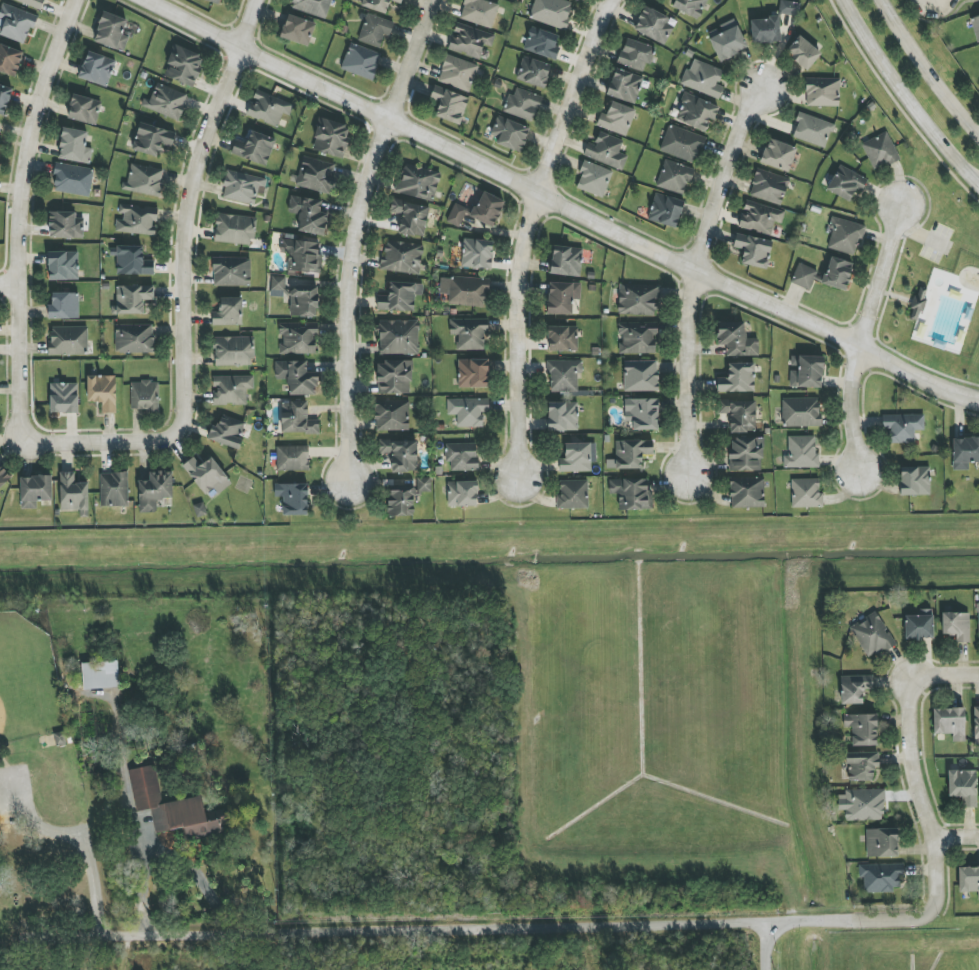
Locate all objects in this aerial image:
building: (577, 0)
building: (215, 1)
building: (32, 3)
building: (378, 4)
building: (312, 7)
building: (690, 7)
building: (789, 8)
building: (479, 12)
building: (552, 12)
building: (16, 23)
building: (653, 25)
building: (976, 26)
building: (297, 30)
building: (374, 30)
building: (765, 30)
building: (111, 32)
building: (470, 41)
building: (728, 41)
building: (541, 43)
building: (802, 52)
building: (635, 54)
building: (9, 60)
building: (360, 61)
building: (183, 66)
building: (96, 69)
road: (927, 69)
building: (533, 72)
building: (457, 73)
building: (703, 79)
building: (624, 86)
building: (822, 92)
road: (904, 96)
building: (4, 98)
building: (166, 101)
building: (449, 104)
building: (522, 104)
building: (268, 108)
building: (84, 109)
building: (695, 112)
building: (616, 118)
building: (812, 129)
building: (0, 131)
building: (509, 133)
building: (330, 137)
building: (151, 139)
building: (682, 144)
building: (74, 146)
building: (254, 148)
building: (606, 151)
building: (880, 151)
building: (778, 155)
building: (316, 175)
building: (674, 177)
building: (72, 179)
building: (593, 179)
building: (144, 180)
building: (418, 182)
building: (243, 187)
building: (768, 187)
road: (194, 203)
road: (558, 205)
road: (22, 209)
building: (487, 209)
building: (665, 210)
building: (309, 214)
building: (457, 215)
building: (411, 217)
building: (759, 217)
building: (136, 219)
building: (65, 225)
building: (234, 229)
building: (845, 235)
road: (529, 239)
road: (357, 242)
building: (753, 250)
building: (477, 254)
building: (302, 255)
building: (402, 257)
building: (132, 261)
building: (566, 261)
building: (63, 266)
building: (231, 271)
building: (837, 273)
road: (695, 275)
building: (804, 276)
road: (9, 285)
building: (277, 286)
building: (465, 290)
building: (400, 297)
building: (563, 298)
building: (132, 299)
building: (638, 299)
building: (304, 301)
building: (918, 303)
building: (64, 306)
building: (228, 312)
building: (469, 333)
building: (398, 337)
building: (637, 337)
building: (134, 338)
building: (298, 338)
building: (562, 338)
building: (736, 339)
building: (68, 341)
road: (863, 341)
building: (233, 351)
building: (806, 371)
building: (473, 373)
building: (563, 375)
building: (640, 376)
building: (297, 377)
building: (394, 377)
building: (737, 378)
building: (231, 389)
building: (102, 392)
building: (144, 395)
building: (64, 398)
building: (468, 411)
building: (801, 412)
building: (642, 413)
building: (739, 414)
building: (391, 415)
building: (562, 416)
building: (297, 418)
building: (902, 427)
building: (227, 432)
road: (111, 452)
building: (801, 452)
building: (964, 452)
building: (401, 454)
building: (629, 454)
building: (745, 454)
building: (462, 456)
building: (292, 458)
building: (576, 458)
building: (207, 476)
building: (3, 477)
building: (914, 481)
building: (424, 484)
building: (114, 489)
building: (35, 490)
building: (155, 490)
building: (462, 493)
building: (630, 493)
building: (747, 493)
building: (73, 494)
building: (806, 494)
building: (573, 495)
building: (292, 498)
building: (400, 503)
building: (978, 617)
building: (919, 625)
building: (956, 625)
building: (871, 635)
road: (963, 666)
building: (100, 675)
building: (854, 688)
building: (950, 722)
building: (976, 724)
building: (862, 729)
building: (861, 765)
building: (963, 786)
road: (928, 792)
building: (862, 804)
building: (174, 808)
road: (957, 839)
building: (881, 842)
building: (881, 877)
building: (968, 879)
road: (405, 931)
road: (764, 947)

